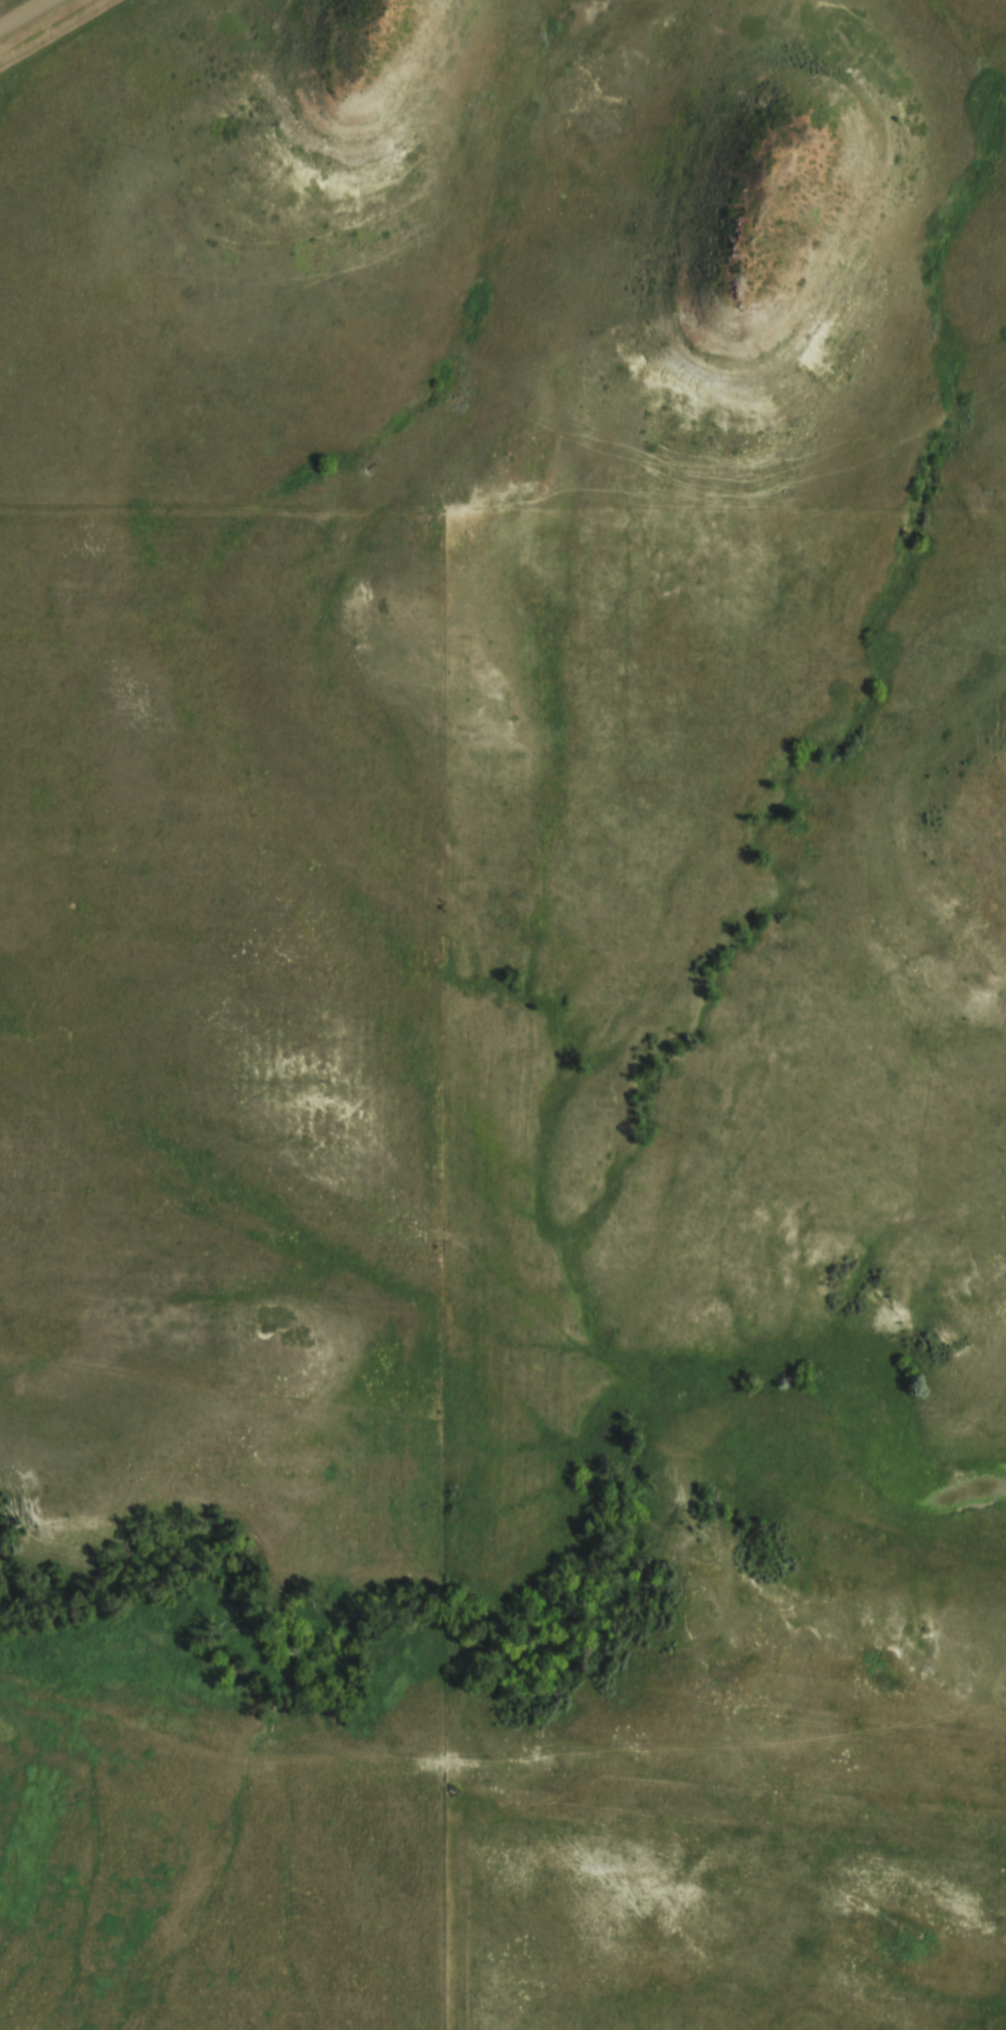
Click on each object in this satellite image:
road: (18, 11)

